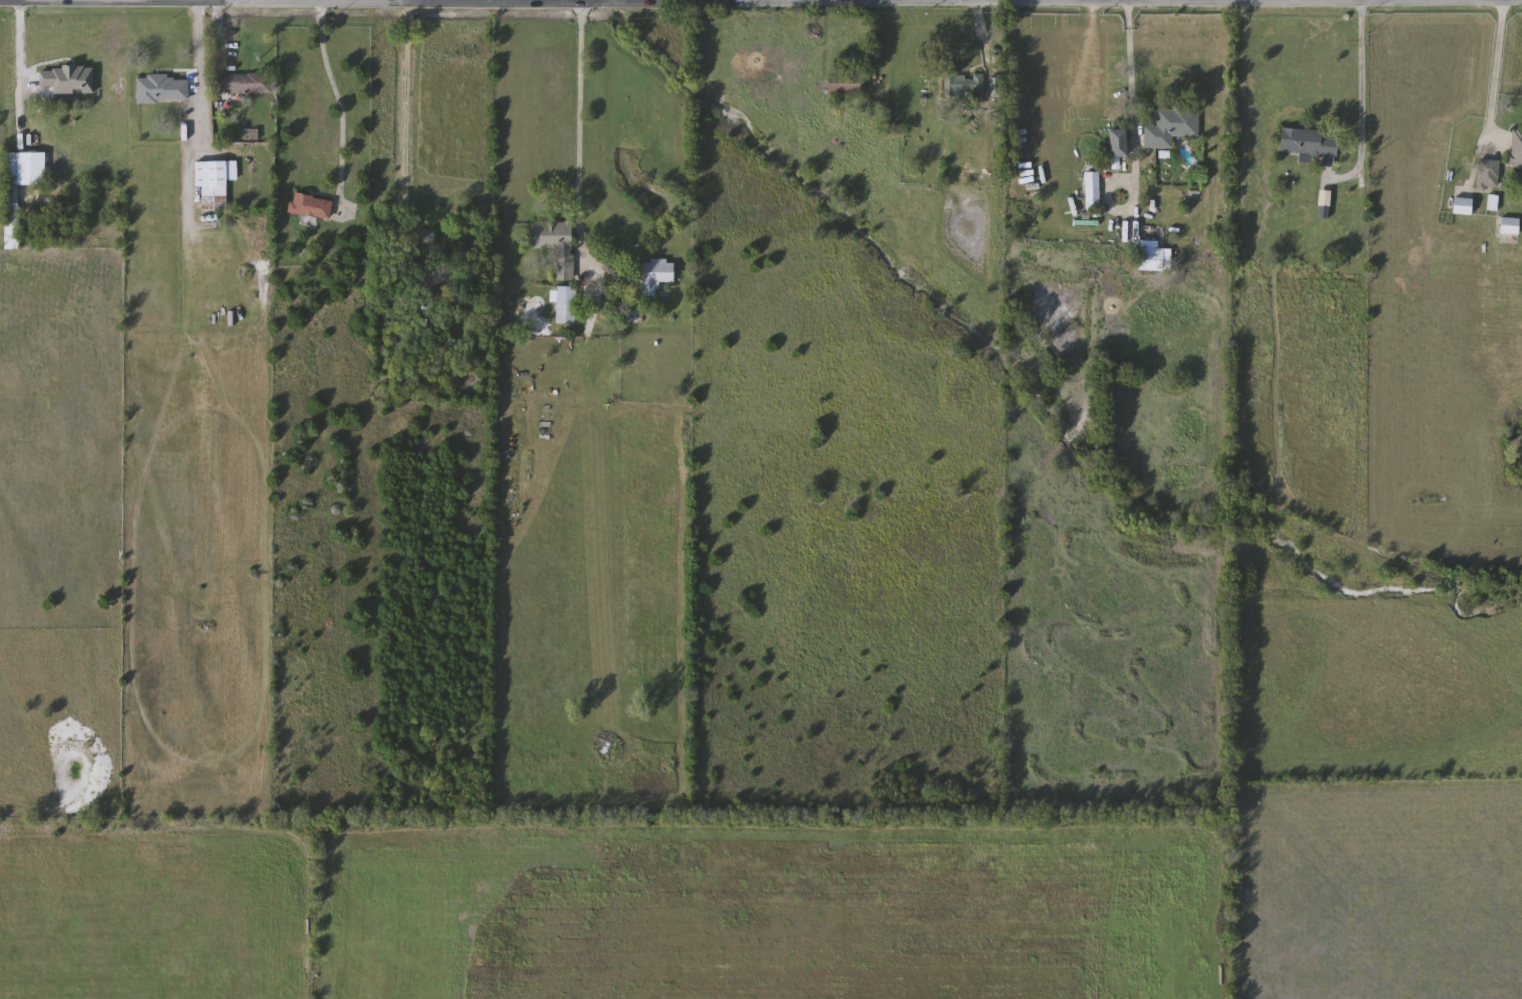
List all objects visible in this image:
road: (213, 0)
road: (1514, 0)
road: (343, 1)
road: (751, 1)
road: (506, 3)
road: (214, 32)
road: (982, 45)
road: (891, 50)
road: (196, 58)
road: (1130, 70)
road: (23, 73)
road: (1495, 75)
building: (60, 83)
building: (247, 83)
building: (846, 86)
building: (964, 86)
building: (163, 90)
road: (325, 98)
road: (1360, 110)
road: (406, 127)
building: (1172, 127)
building: (1121, 143)
building: (1308, 143)
building: (1515, 149)
road: (579, 151)
building: (1487, 174)
building: (213, 187)
building: (1094, 191)
building: (312, 206)
building: (1461, 206)
building: (12, 218)
building: (1509, 226)
building: (558, 245)
building: (1152, 256)
road: (609, 275)
building: (658, 275)
building: (567, 305)

